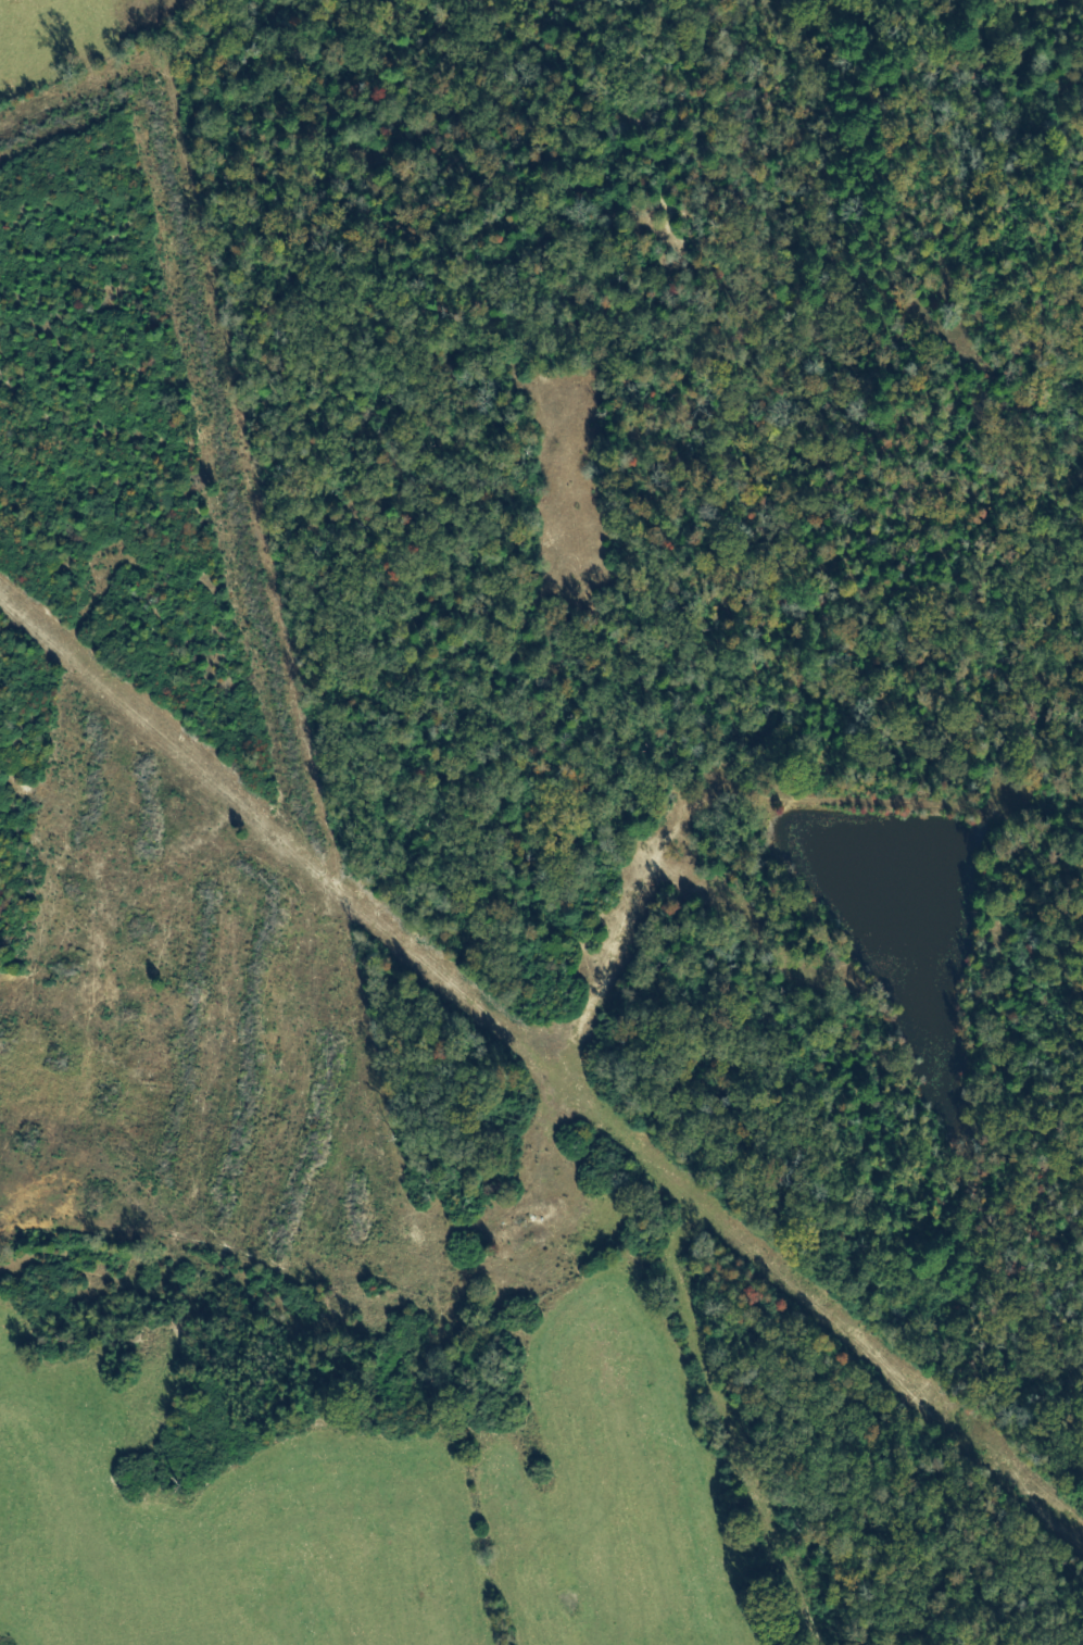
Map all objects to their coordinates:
road: (705, 1353)

